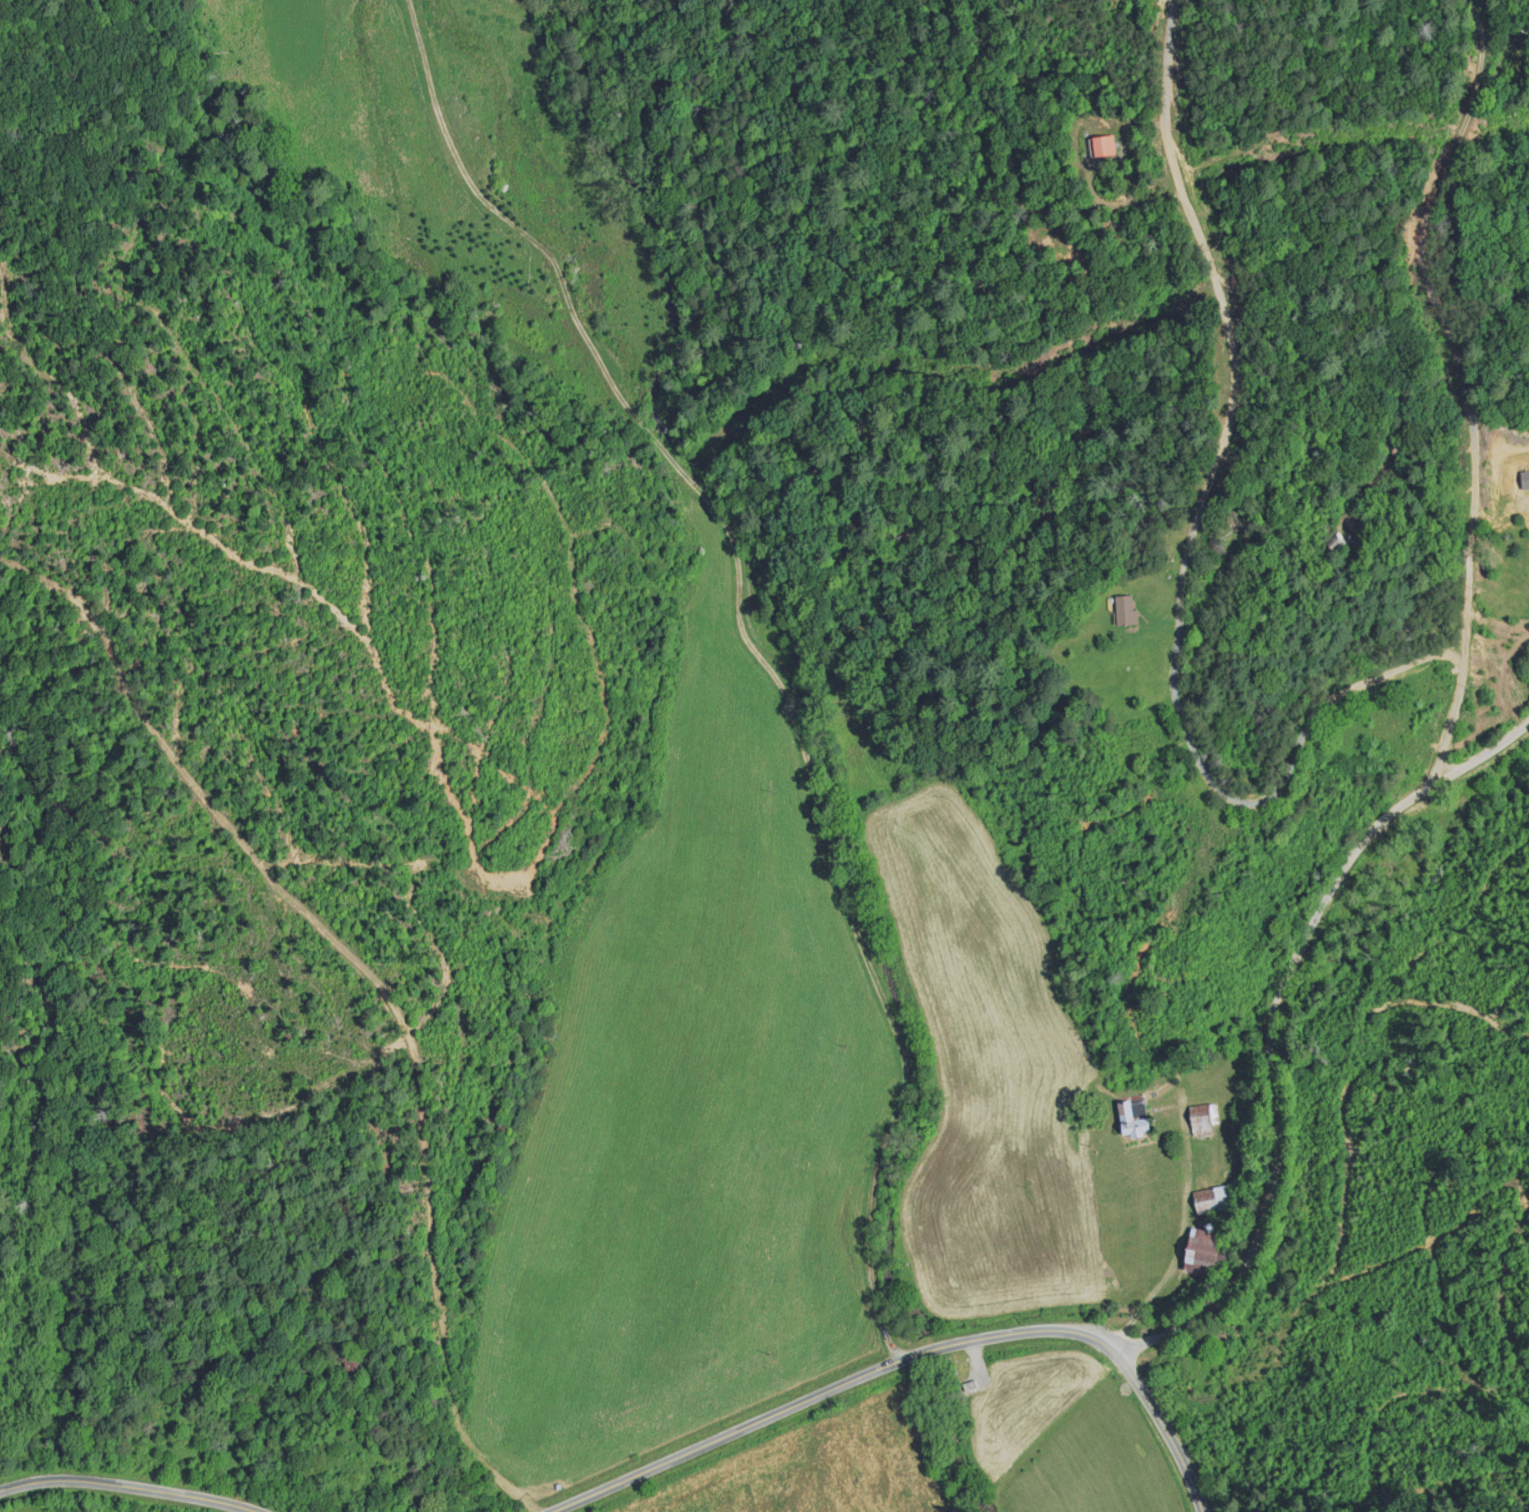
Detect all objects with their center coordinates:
building: (1104, 145)
road: (1457, 395)
building: (1125, 609)
road: (737, 645)
road: (1336, 687)
road: (363, 976)
building: (1131, 1120)
building: (1203, 1120)
building: (1212, 1200)
building: (1205, 1251)
road: (911, 1354)
building: (353, 1361)
road: (133, 1484)

